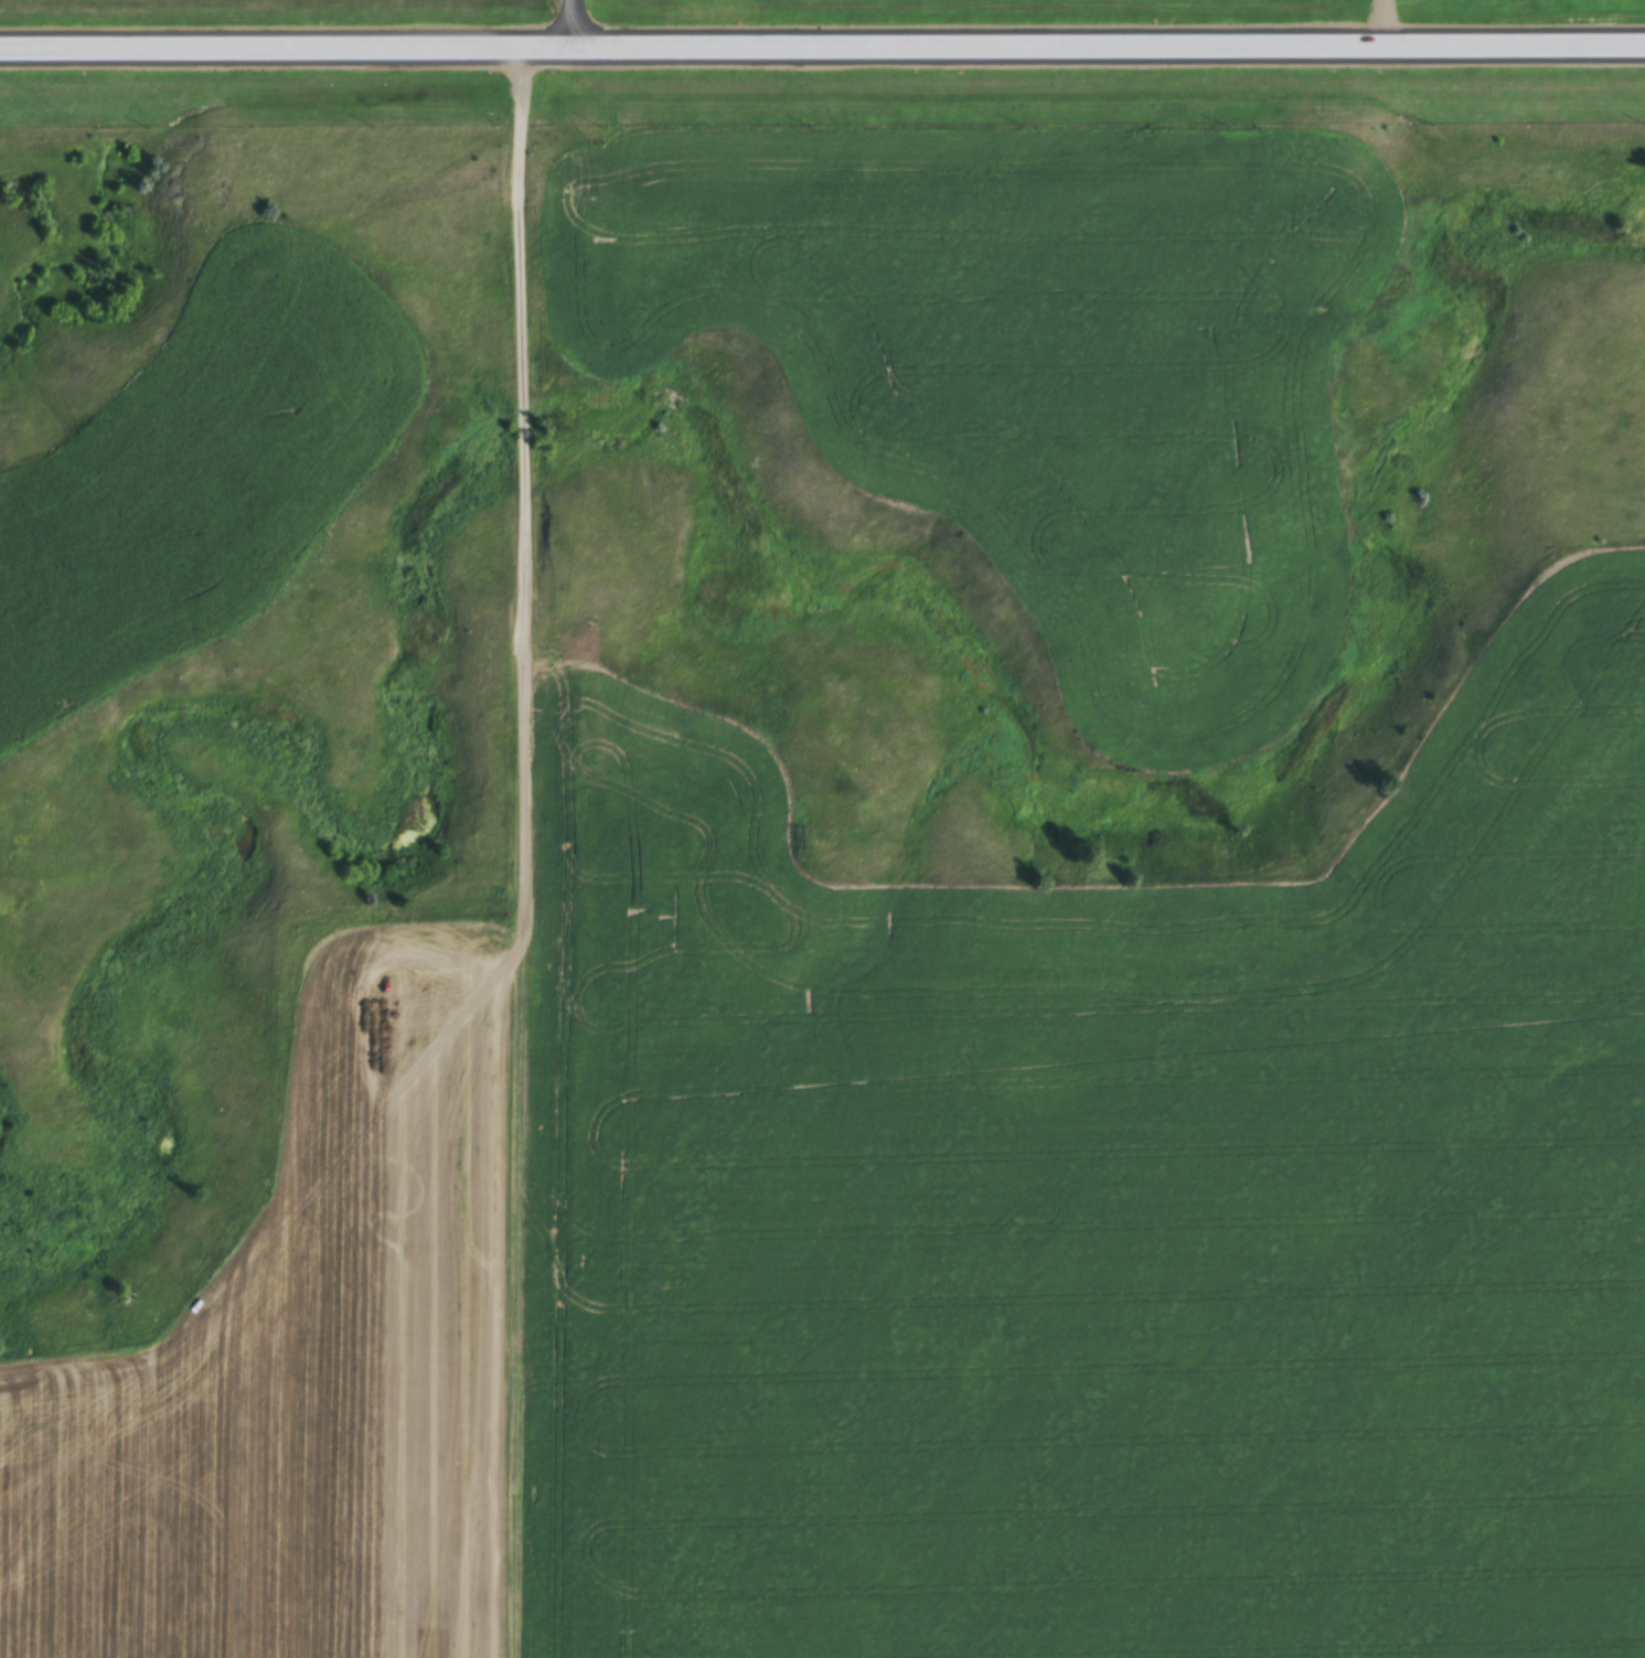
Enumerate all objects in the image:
road: (576, 20)
road: (822, 43)
road: (523, 848)

